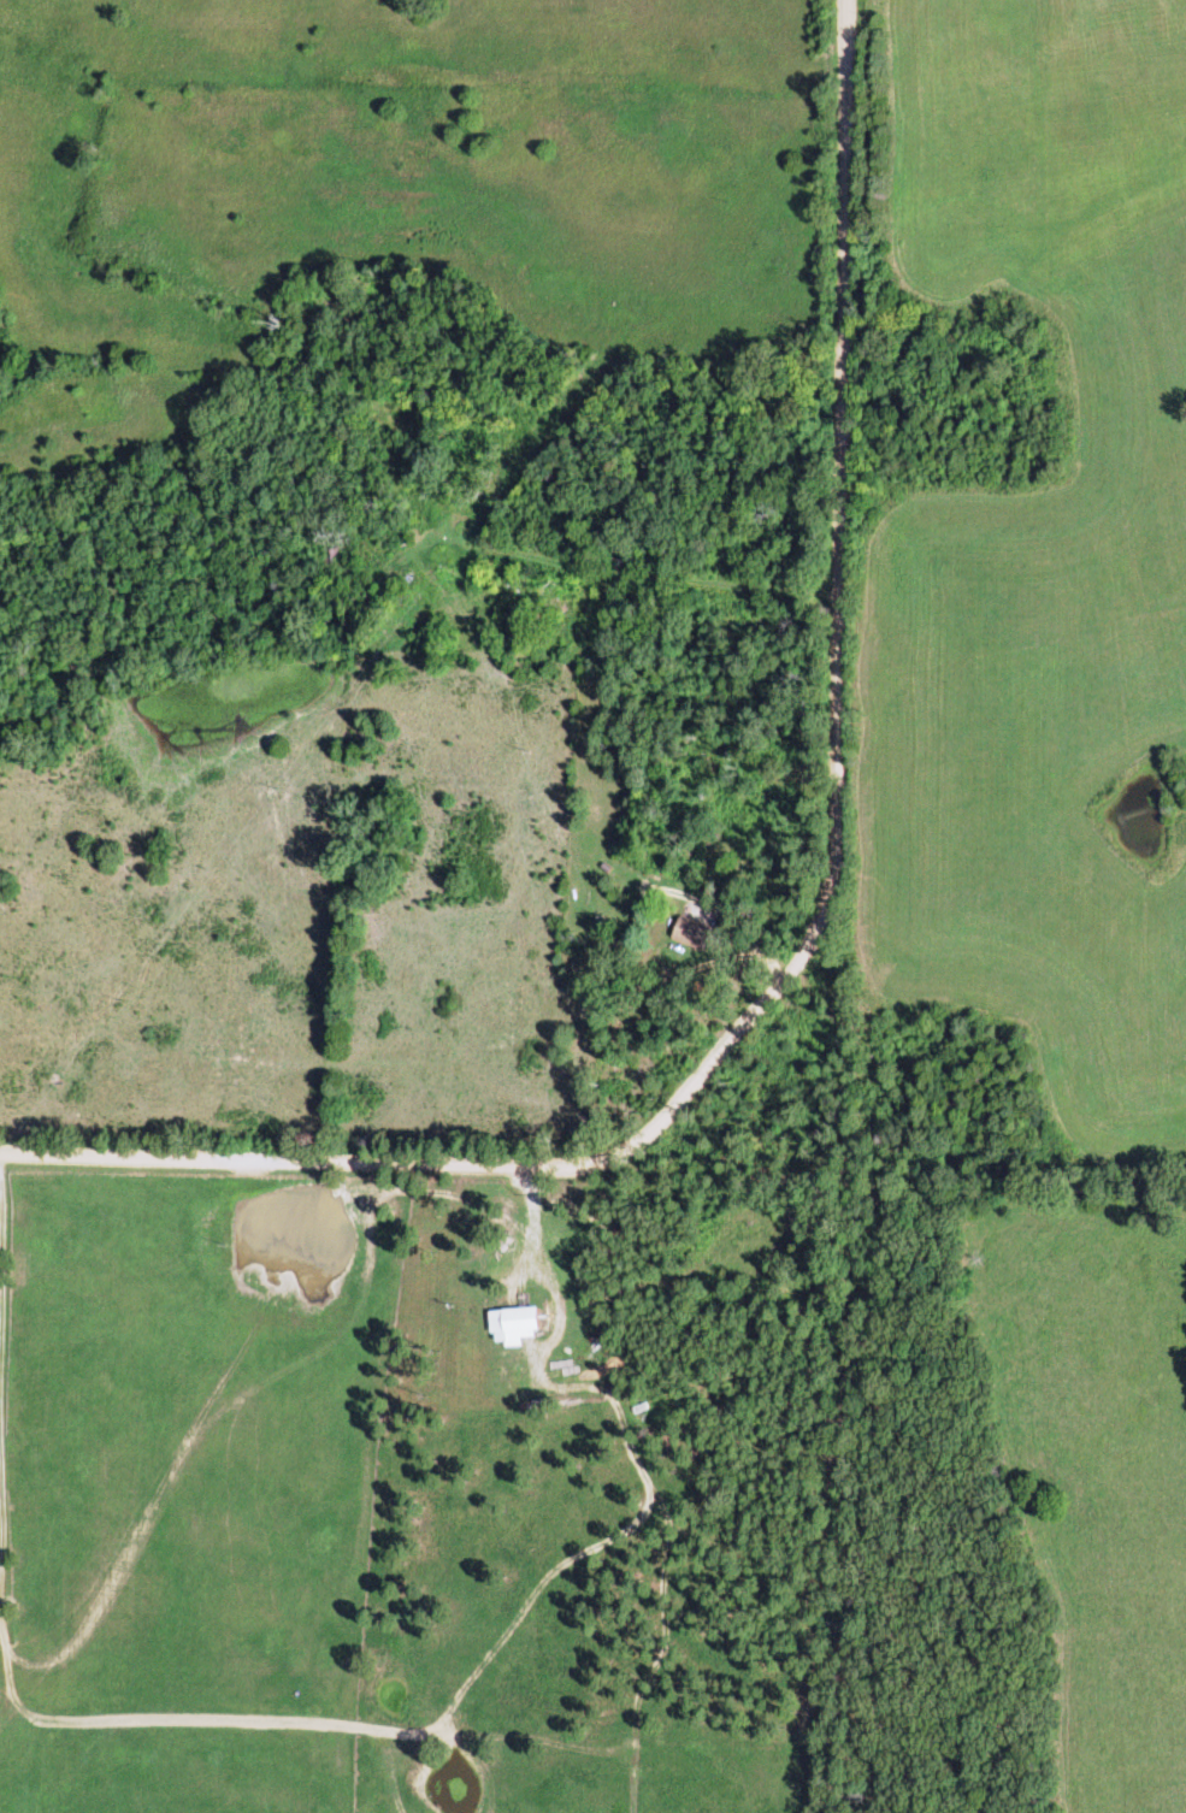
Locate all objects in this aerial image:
road: (821, 929)
building: (703, 935)
building: (526, 1324)

